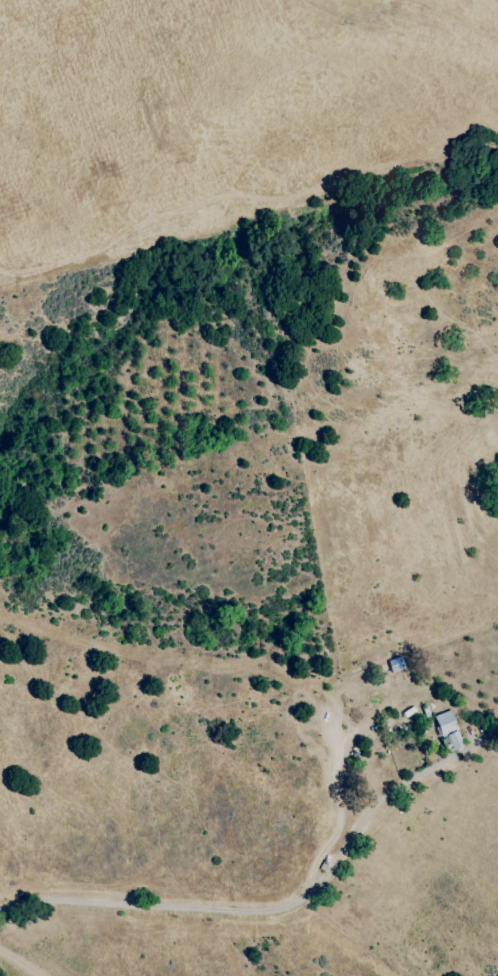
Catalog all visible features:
building: (496, 481)
building: (448, 729)
road: (282, 909)
road: (17, 964)

